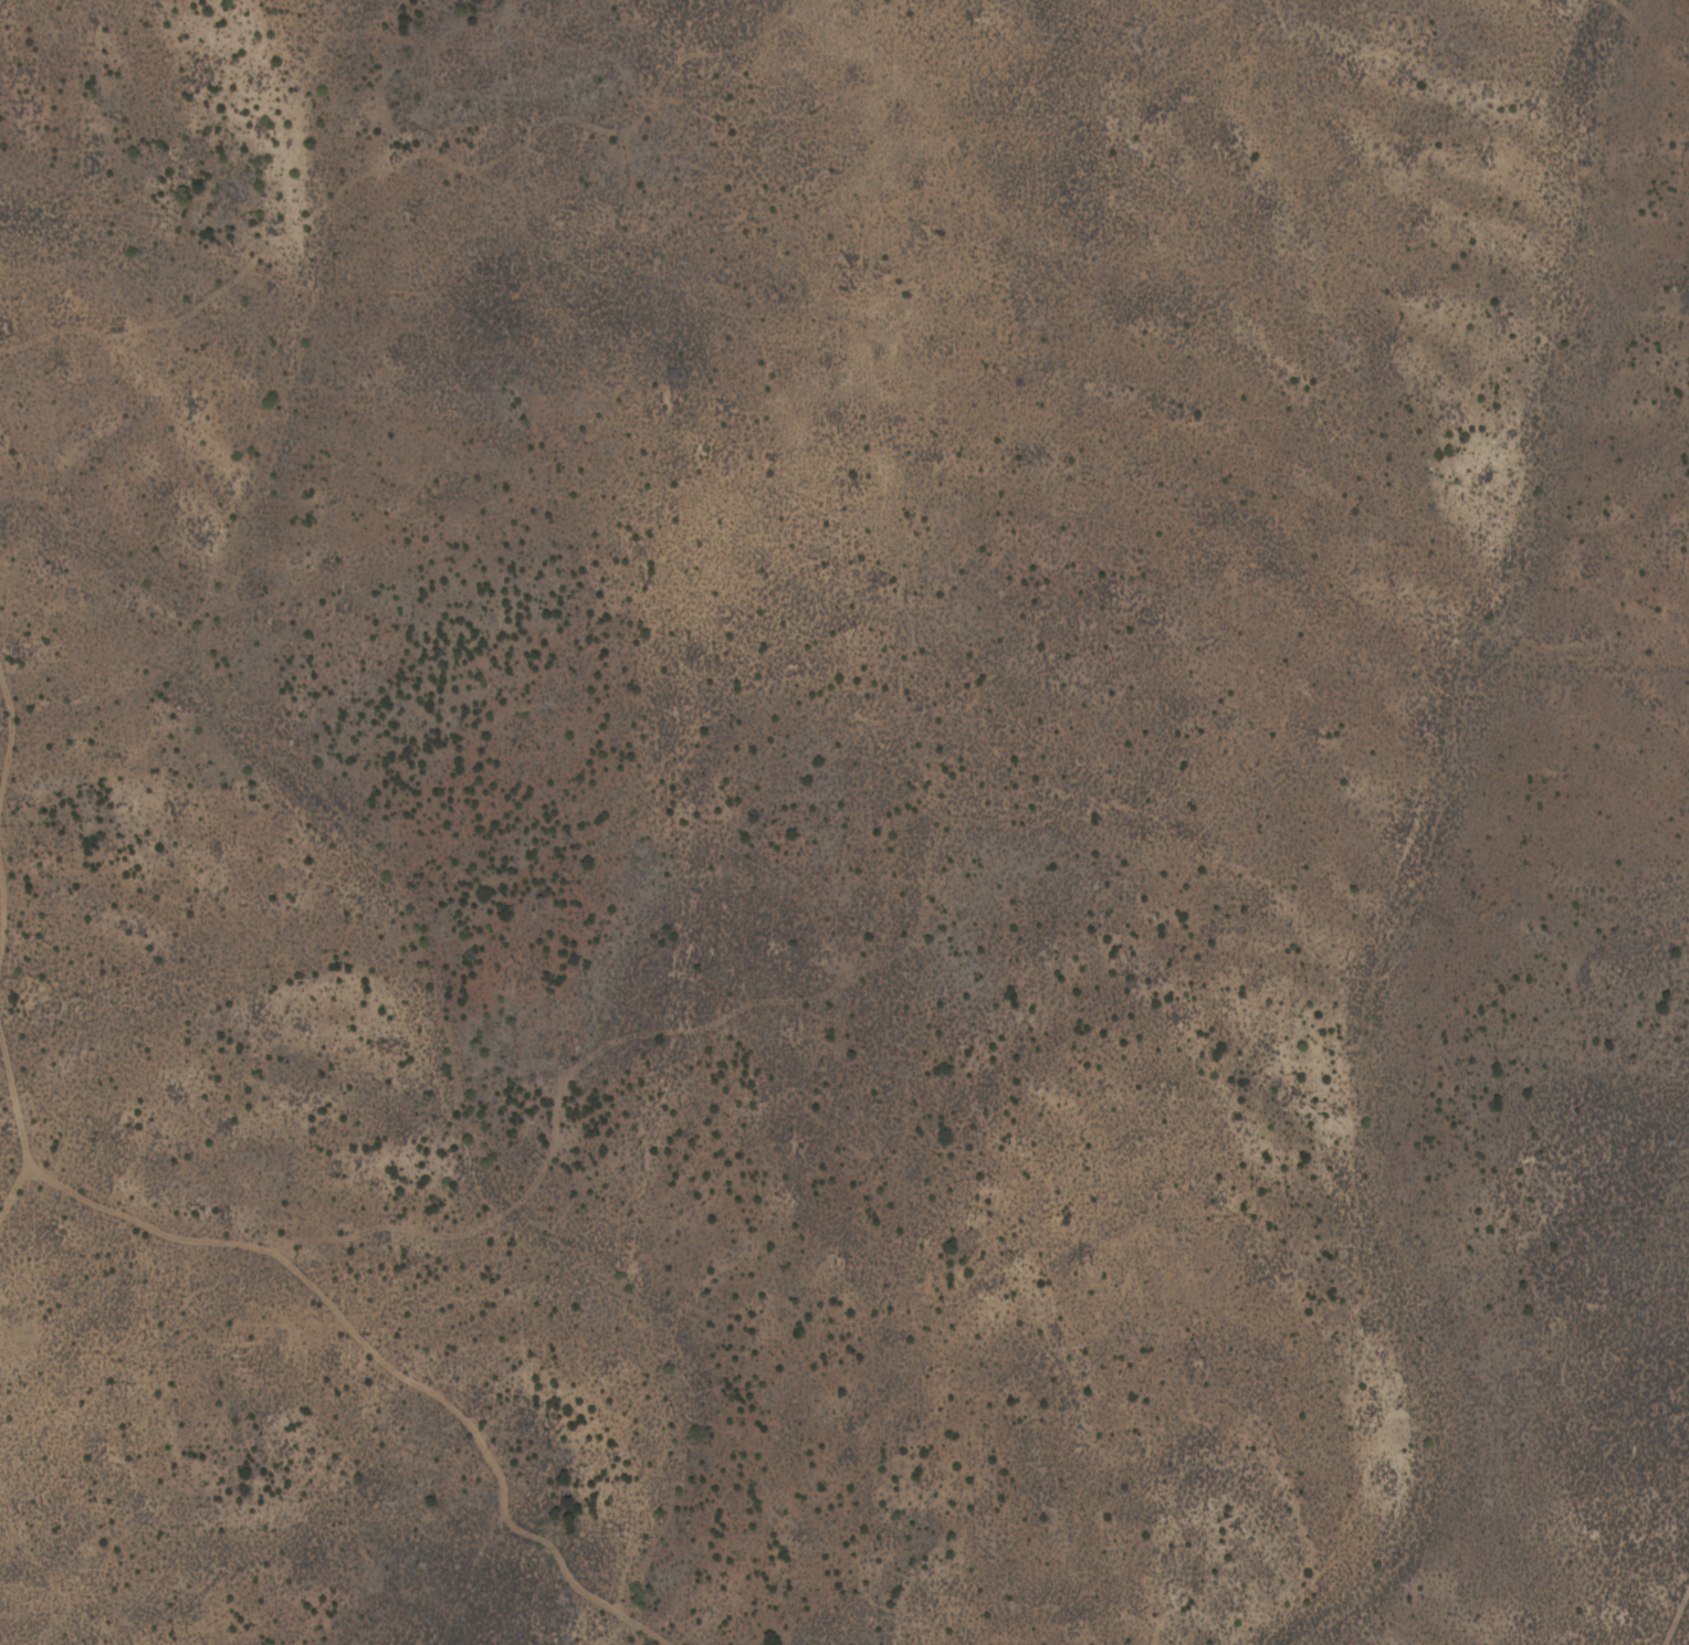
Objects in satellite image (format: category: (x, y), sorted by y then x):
road: (30, 862)

